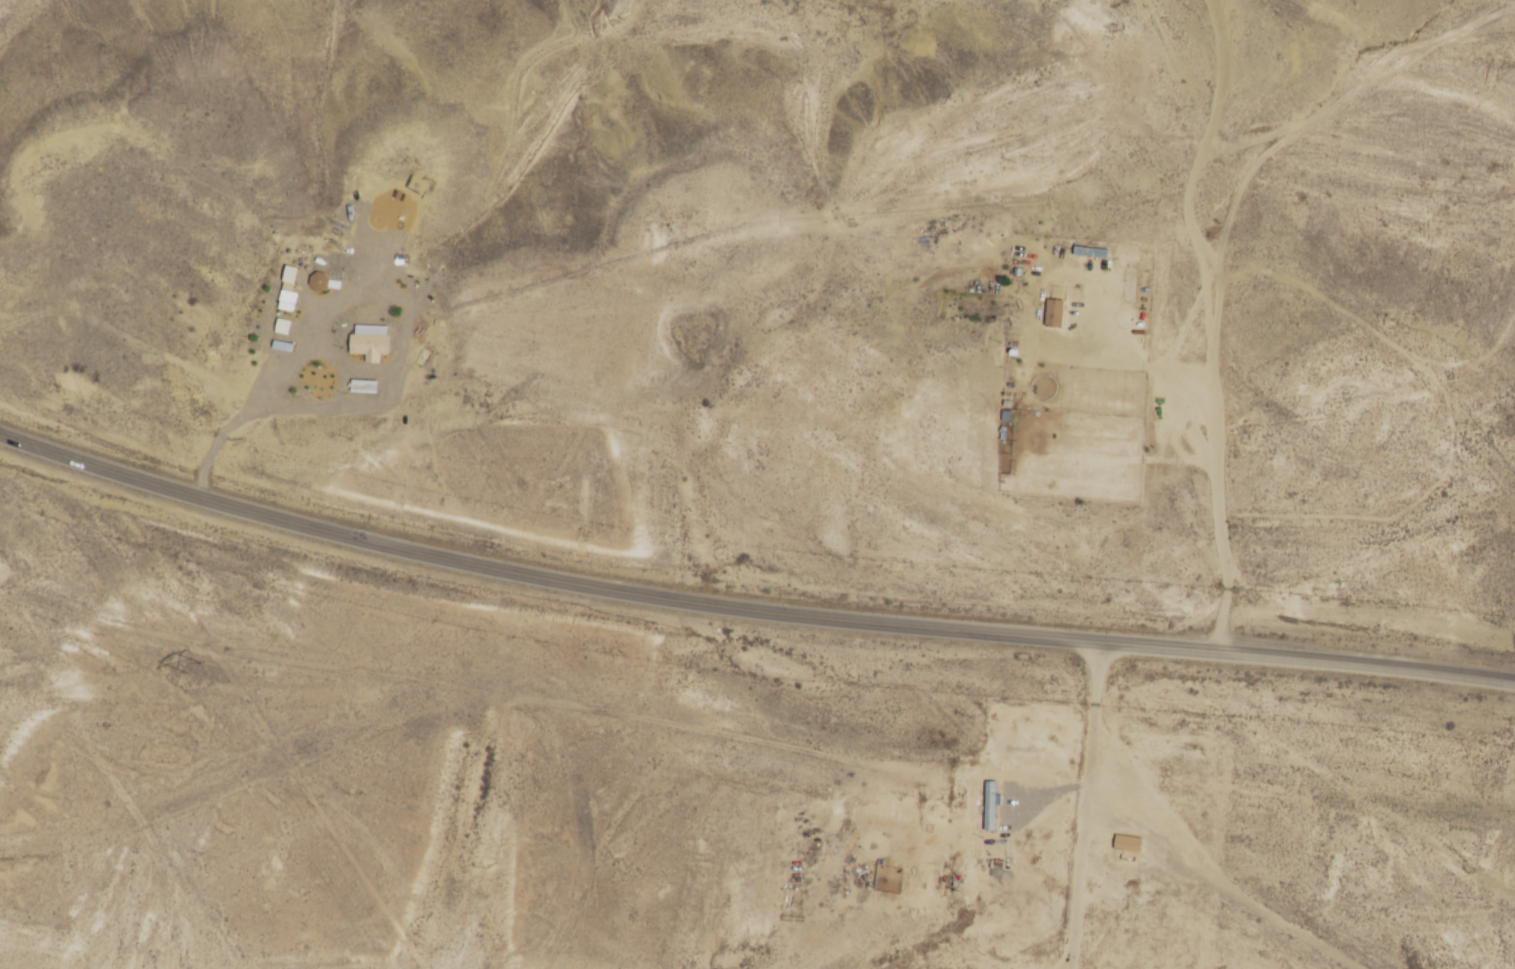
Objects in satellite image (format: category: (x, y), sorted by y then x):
road: (1315, 165)
building: (1090, 252)
building: (1055, 312)
road: (1219, 429)
road: (748, 610)
power tower: (195, 664)
road: (543, 697)
building: (991, 799)
road: (1085, 804)
building: (1127, 846)
road: (1200, 856)

